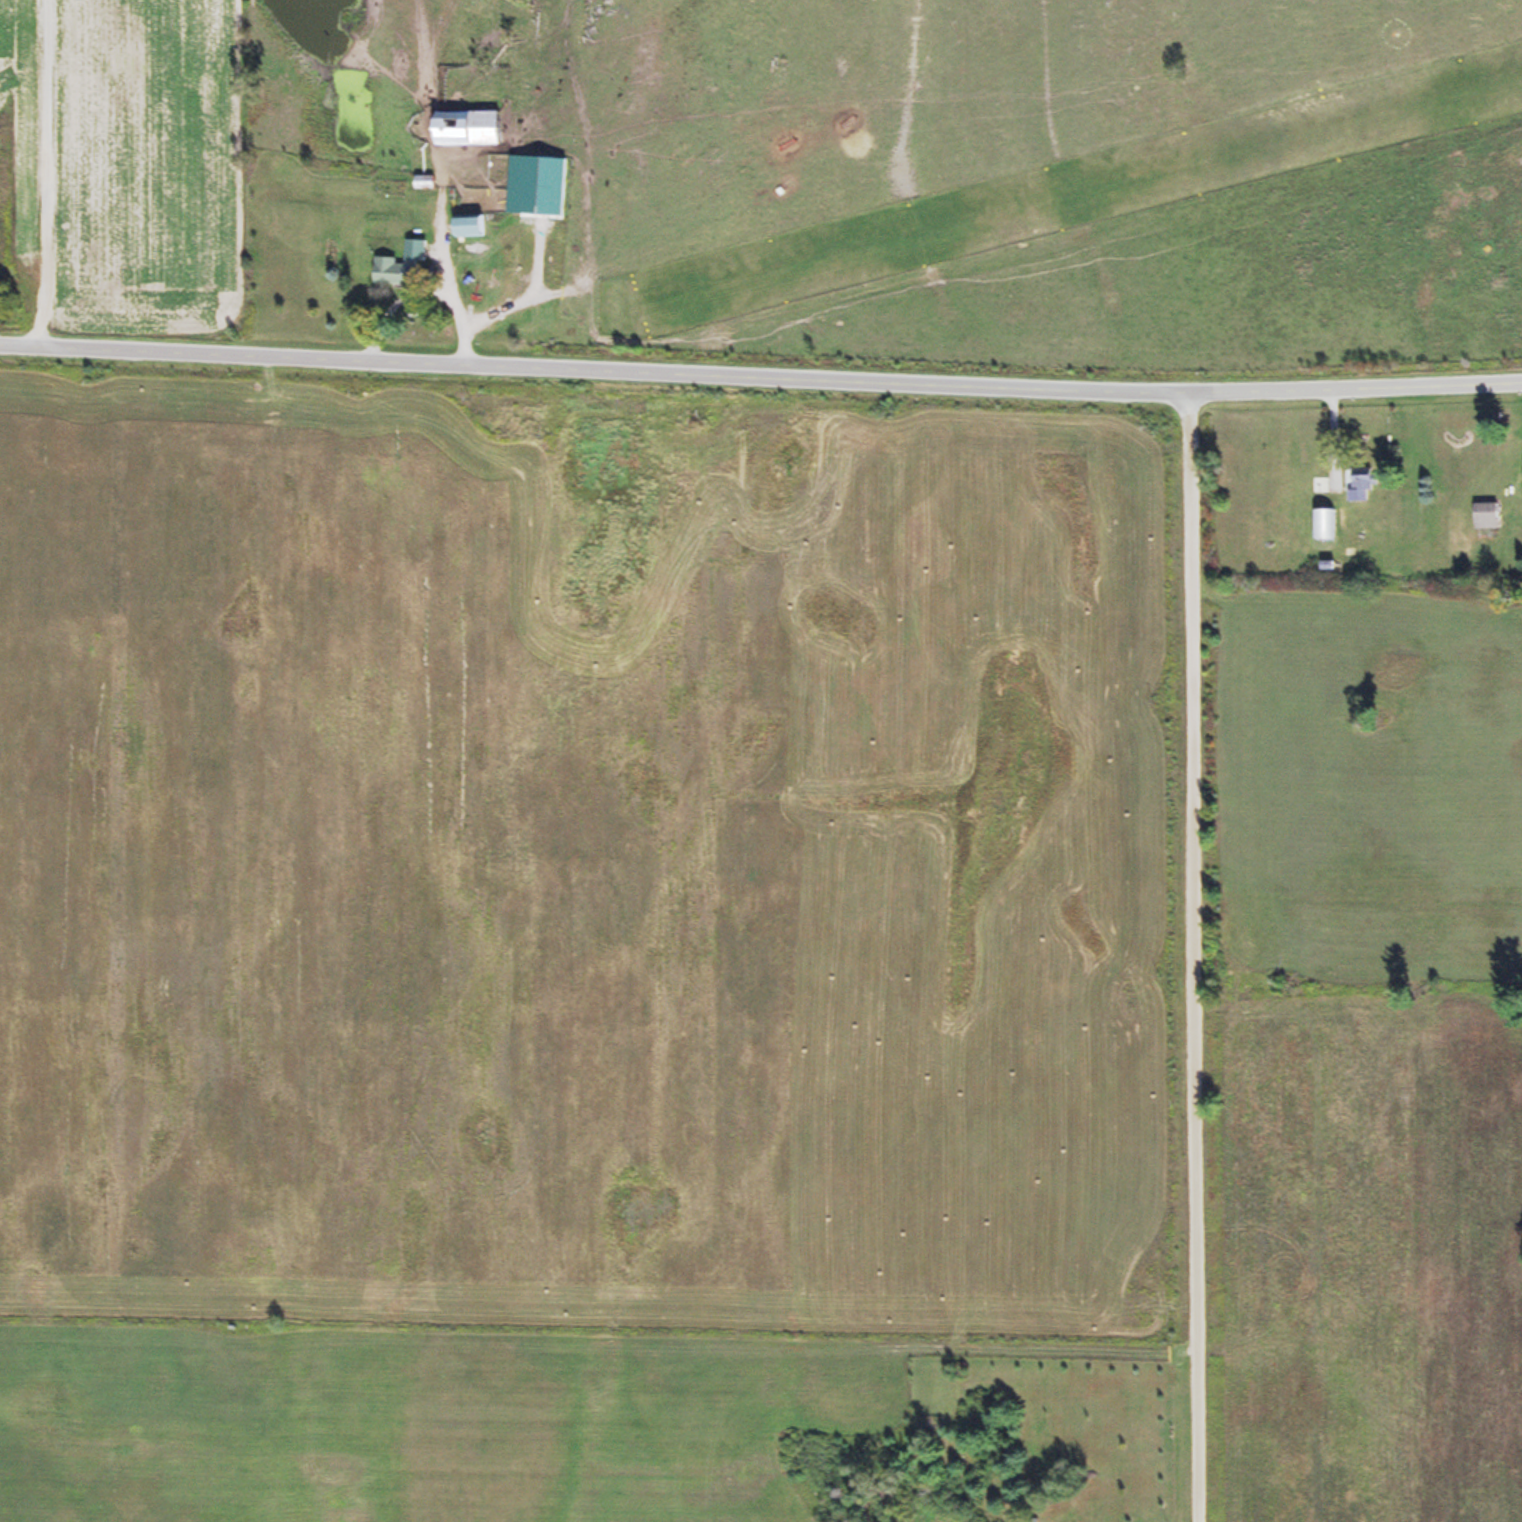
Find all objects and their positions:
building: (463, 127)
airport runway: (1084, 195)
building: (465, 225)
building: (399, 266)
road: (760, 379)
building: (1521, 474)
building: (1359, 482)
building: (1483, 514)
building: (1321, 523)
road: (1181, 959)

